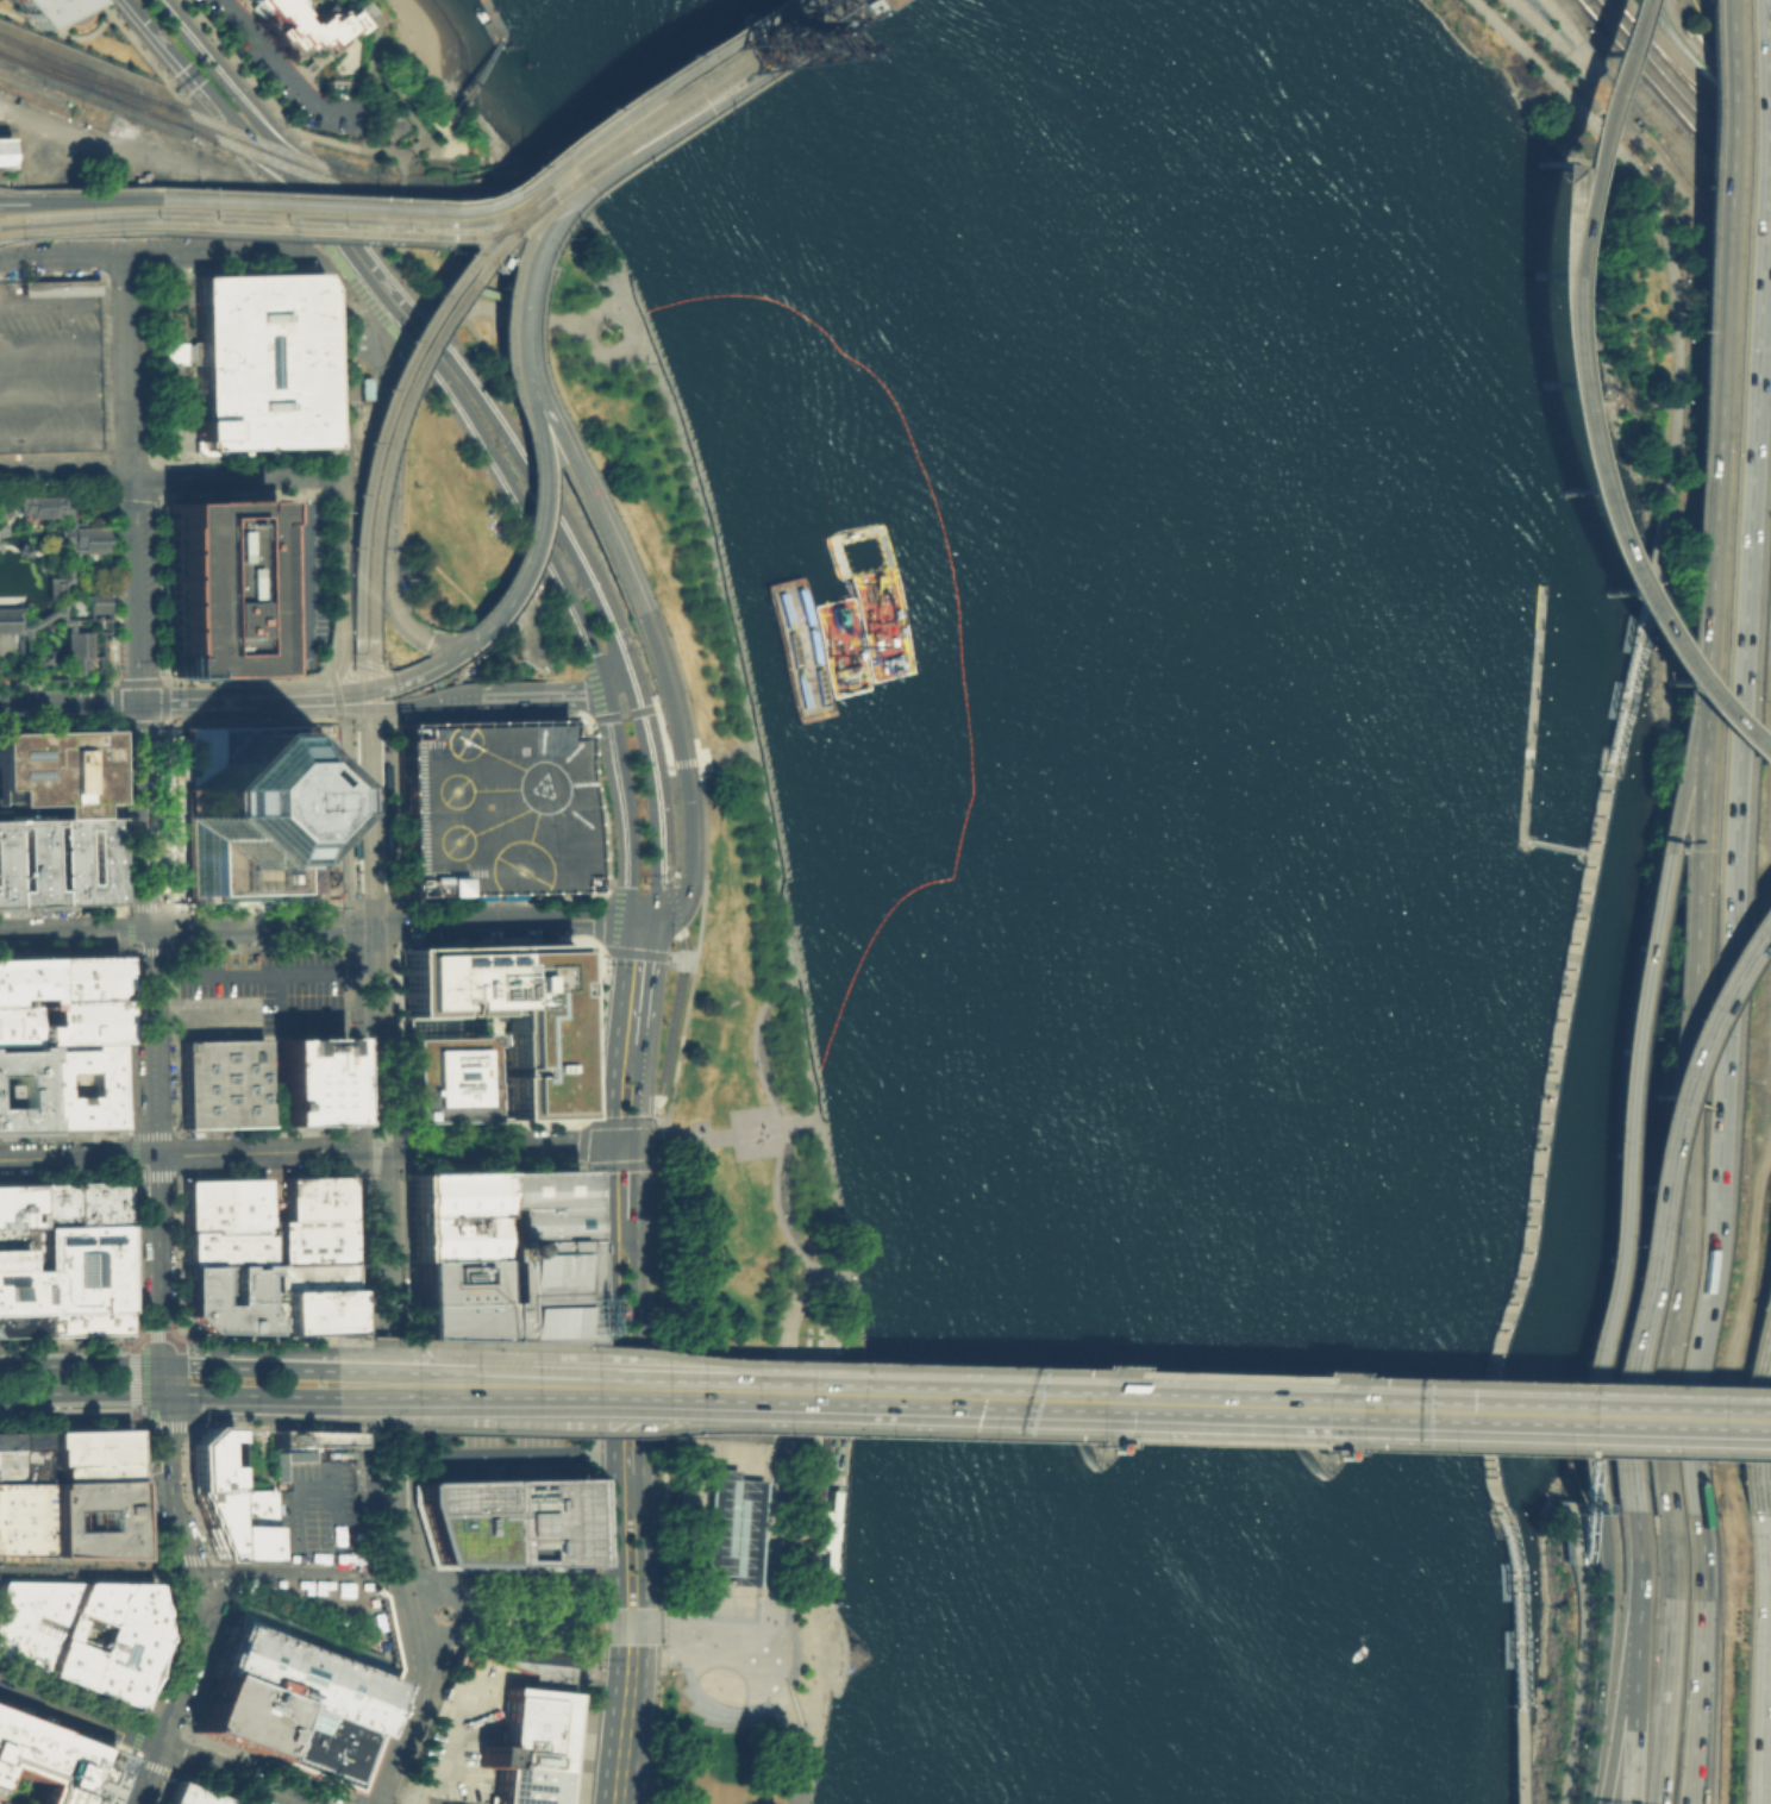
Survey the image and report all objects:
building: (858, 2)
road: (776, 4)
road: (1544, 5)
railway: (1617, 5)
road: (789, 7)
building: (42, 8)
railway: (797, 11)
road: (1523, 12)
railway: (805, 13)
road: (495, 18)
railway: (818, 18)
railway: (821, 19)
building: (308, 21)
pier: (495, 25)
road: (838, 25)
road: (846, 27)
road: (847, 29)
road: (64, 35)
road: (1726, 56)
road: (1583, 63)
road: (213, 68)
road: (282, 68)
road: (1709, 68)
railway: (87, 69)
road: (243, 69)
road: (1591, 73)
traffic signals: (764, 75)
railway: (87, 77)
road: (473, 79)
road: (1698, 80)
railway: (1696, 88)
railway: (37, 89)
road: (387, 89)
road: (201, 92)
railway: (1697, 99)
railway: (663, 104)
railway: (1685, 104)
road: (640, 107)
railway: (667, 115)
railway: (1677, 117)
railway: (634, 118)
road: (695, 127)
road: (694, 129)
road: (677, 130)
railway: (640, 132)
road: (449, 136)
road: (290, 139)
railway: (233, 143)
road: (431, 143)
road: (350, 146)
road: (286, 152)
building: (5, 154)
road: (142, 156)
railway: (321, 164)
road: (77, 189)
road: (490, 192)
road: (89, 198)
road: (12, 201)
road: (286, 206)
road: (331, 206)
road: (1656, 207)
railway: (76, 213)
railway: (353, 218)
railway: (77, 227)
railway: (355, 230)
road: (1539, 240)
road: (1665, 244)
road: (537, 245)
road: (606, 246)
road: (227, 249)
road: (62, 252)
road: (373, 255)
railway: (494, 265)
road: (544, 267)
park: (1615, 274)
road: (438, 286)
building: (56, 288)
road: (63, 302)
road: (538, 302)
road: (596, 305)
road: (634, 319)
road: (449, 322)
road: (489, 326)
road: (1706, 326)
road: (515, 333)
railway: (407, 346)
road: (64, 350)
railway: (415, 355)
road: (602, 356)
building: (256, 359)
road: (129, 364)
road: (338, 365)
parking lot: (48, 371)
building: (363, 387)
road: (509, 389)
road: (64, 395)
road: (552, 405)
road: (494, 411)
road: (1551, 416)
road: (468, 421)
road: (395, 427)
road: (65, 438)
road: (65, 475)
road: (236, 475)
road: (108, 484)
road: (295, 487)
road: (120, 494)
road: (583, 495)
building: (33, 507)
road: (14, 519)
road: (536, 519)
road: (31, 522)
road: (65, 537)
building: (87, 540)
road: (5, 547)
building: (19, 550)
road: (32, 552)
road: (63, 553)
road: (58, 556)
road: (299, 574)
road: (593, 577)
road: (342, 578)
parking lot: (300, 583)
building: (52, 587)
road: (111, 588)
building: (220, 589)
road: (77, 590)
road: (133, 590)
building: (95, 605)
road: (7, 606)
road: (524, 606)
railway: (370, 609)
railway: (359, 610)
road: (626, 614)
road: (401, 618)
building: (7, 620)
road: (39, 620)
road: (58, 620)
road: (1640, 628)
traffic signals: (426, 639)
road: (11, 647)
building: (76, 653)
building: (38, 658)
road: (433, 664)
road: (24, 665)
road: (676, 666)
road: (663, 671)
traffic signals: (633, 679)
road: (137, 681)
road: (56, 683)
traffic signals: (390, 683)
road: (328, 688)
traffic signals: (603, 690)
road: (362, 691)
road: (300, 693)
road: (563, 694)
road: (202, 701)
road: (163, 702)
road: (113, 703)
traffic signals: (137, 704)
road: (68, 706)
road: (380, 708)
traffic signals: (390, 708)
road: (487, 712)
road: (622, 715)
road: (1532, 716)
road: (345, 719)
pier: (1532, 721)
road: (138, 724)
railway: (388, 728)
airport apron: (445, 741)
road: (1682, 741)
road: (744, 750)
road: (1729, 756)
airport taxiway: (486, 757)
road: (689, 760)
building: (56, 769)
road: (652, 769)
road: (1692, 783)
helipad: (530, 785)
airport taxiway: (478, 788)
airport apron: (436, 789)
parking lot: (27, 791)
road: (25, 794)
road: (622, 803)
airport: (488, 804)
road: (703, 806)
building: (489, 807)
parking lot: (489, 807)
road: (388, 812)
building: (246, 813)
road: (352, 813)
road: (165, 815)
road: (115, 816)
road: (369, 816)
road: (140, 818)
airport taxiway: (484, 820)
airport taxiway: (517, 825)
road: (689, 835)
road: (774, 838)
airport apron: (437, 839)
road: (1562, 846)
river: (1237, 848)
building: (55, 860)
airport apron: (501, 865)
road: (658, 889)
railway: (346, 890)
road: (384, 903)
road: (143, 907)
road: (349, 912)
road: (642, 917)
traffic signals: (657, 917)
traffic signals: (627, 919)
road: (384, 923)
road: (71, 932)
road: (631, 951)
road: (145, 953)
road: (324, 970)
road: (211, 973)
building: (79, 977)
building: (21, 979)
road: (650, 981)
parking lot: (271, 985)
road: (676, 990)
road: (276, 994)
road: (688, 1001)
building: (505, 1010)
parking lot: (219, 1011)
road: (325, 1014)
road: (190, 1016)
building: (77, 1021)
road: (494, 1025)
building: (14, 1026)
road: (615, 1031)
road: (375, 1036)
road: (755, 1045)
road: (149, 1064)
building: (443, 1077)
road: (640, 1078)
building: (308, 1079)
road: (811, 1080)
building: (218, 1082)
building: (49, 1083)
park: (708, 1084)
building: (18, 1088)
road: (1551, 1094)
road: (637, 1121)
road: (448, 1127)
road: (637, 1127)
pier: (1542, 1132)
road: (774, 1133)
railway: (377, 1136)
road: (724, 1136)
road: (399, 1139)
road: (663, 1141)
road: (620, 1142)
traffic signals: (636, 1142)
traffic signals: (606, 1144)
road: (492, 1145)
road: (780, 1145)
road: (371, 1150)
traffic signals: (378, 1150)
road: (257, 1152)
road: (75, 1157)
road: (400, 1157)
road: (358, 1159)
road: (633, 1165)
road: (381, 1167)
road: (1616, 1169)
road: (636, 1178)
road: (1653, 1191)
building: (95, 1202)
building: (14, 1203)
building: (50, 1203)
building: (221, 1203)
building: (532, 1203)
road: (777, 1209)
road: (1682, 1213)
building: (448, 1215)
building: (311, 1219)
building: (19, 1236)
railway: (377, 1239)
railway: (389, 1239)
building: (224, 1246)
building: (19, 1258)
road: (154, 1258)
road: (402, 1258)
road: (386, 1265)
road: (607, 1266)
building: (81, 1267)
building: (243, 1288)
building: (534, 1290)
building: (20, 1291)
building: (307, 1297)
building: (449, 1298)
road: (638, 1302)
building: (82, 1322)
building: (20, 1323)
railway: (367, 1328)
road: (371, 1329)
road: (170, 1334)
road: (257, 1339)
road: (345, 1340)
road: (607, 1349)
traffic signals: (156, 1363)
road: (506, 1363)
road: (77, 1364)
road: (244, 1367)
road: (989, 1370)
road: (1226, 1377)
road: (156, 1378)
road: (383, 1383)
road: (1460, 1383)
road: (512, 1388)
road: (1683, 1389)
road: (624, 1390)
road: (756, 1393)
traffic signals: (157, 1395)
road: (77, 1396)
road: (246, 1396)
road: (702, 1397)
road: (765, 1397)
road: (795, 1398)
road: (988, 1401)
traffic signals: (1012, 1402)
road: (1175, 1405)
parking lot: (494, 1409)
road: (1275, 1409)
traffic signals: (1419, 1412)
road: (1459, 1414)
road: (1682, 1420)
road: (177, 1423)
road: (264, 1424)
road: (346, 1426)
road: (768, 1428)
road: (444, 1430)
road: (606, 1433)
road: (987, 1435)
building: (308, 1437)
building: (21, 1439)
road: (1224, 1441)
building: (1106, 1445)
building: (86, 1446)
road: (1458, 1448)
building: (1338, 1452)
road: (1682, 1453)
building: (206, 1459)
road: (407, 1459)
road: (1516, 1461)
building: (21, 1465)
building: (279, 1470)
building: (87, 1472)
road: (327, 1474)
road: (390, 1478)
road: (628, 1480)
road: (161, 1484)
road: (313, 1485)
road: (796, 1486)
road: (1770, 1493)
building: (687, 1497)
road: (1576, 1498)
parking lot: (317, 1508)
road: (614, 1508)
road: (642, 1509)
railway: (411, 1514)
building: (23, 1517)
building: (212, 1518)
building: (457, 1520)
road: (716, 1520)
building: (114, 1521)
building: (542, 1521)
road: (745, 1521)
road: (809, 1523)
building: (249, 1524)
building: (730, 1524)
road: (374, 1528)
building: (825, 1528)
road: (764, 1537)
road: (399, 1565)
road: (90, 1570)
road: (421, 1570)
road: (263, 1571)
road: (1584, 1572)
road: (1639, 1572)
road: (370, 1573)
road: (382, 1577)
road: (506, 1577)
road: (424, 1581)
road: (406, 1590)
traffic signals: (618, 1605)
road: (506, 1610)
parking lot: (321, 1611)
fountain: (442, 1612)
road: (800, 1616)
road: (470, 1618)
building: (31, 1620)
road: (645, 1623)
road: (709, 1623)
road: (609, 1624)
road: (505, 1626)
road: (714, 1626)
road: (738, 1626)
road: (776, 1630)
road: (463, 1637)
building: (106, 1640)
road: (434, 1640)
traffic signals: (630, 1642)
park: (1567, 1645)
road: (1579, 1650)
road: (1517, 1653)
road: (1765, 1656)
road: (1601, 1658)
road: (1698, 1658)
road: (1670, 1659)
road: (776, 1665)
building: (300, 1670)
building: (543, 1674)
road: (786, 1679)
fountain: (720, 1685)
road: (801, 1686)
road: (174, 1689)
road: (412, 1690)
road: (624, 1714)
building: (237, 1717)
road: (1615, 1717)
road: (1631, 1718)
parking lot: (464, 1728)
road: (152, 1743)
building: (314, 1747)
building: (526, 1747)
road: (414, 1748)
road: (438, 1761)
building: (48, 1767)
road: (1763, 1789)
road: (394, 1794)
building: (188, 1796)
road: (356, 1800)
road: (349, 1802)
road: (407, 1802)
road: (299, 1803)

